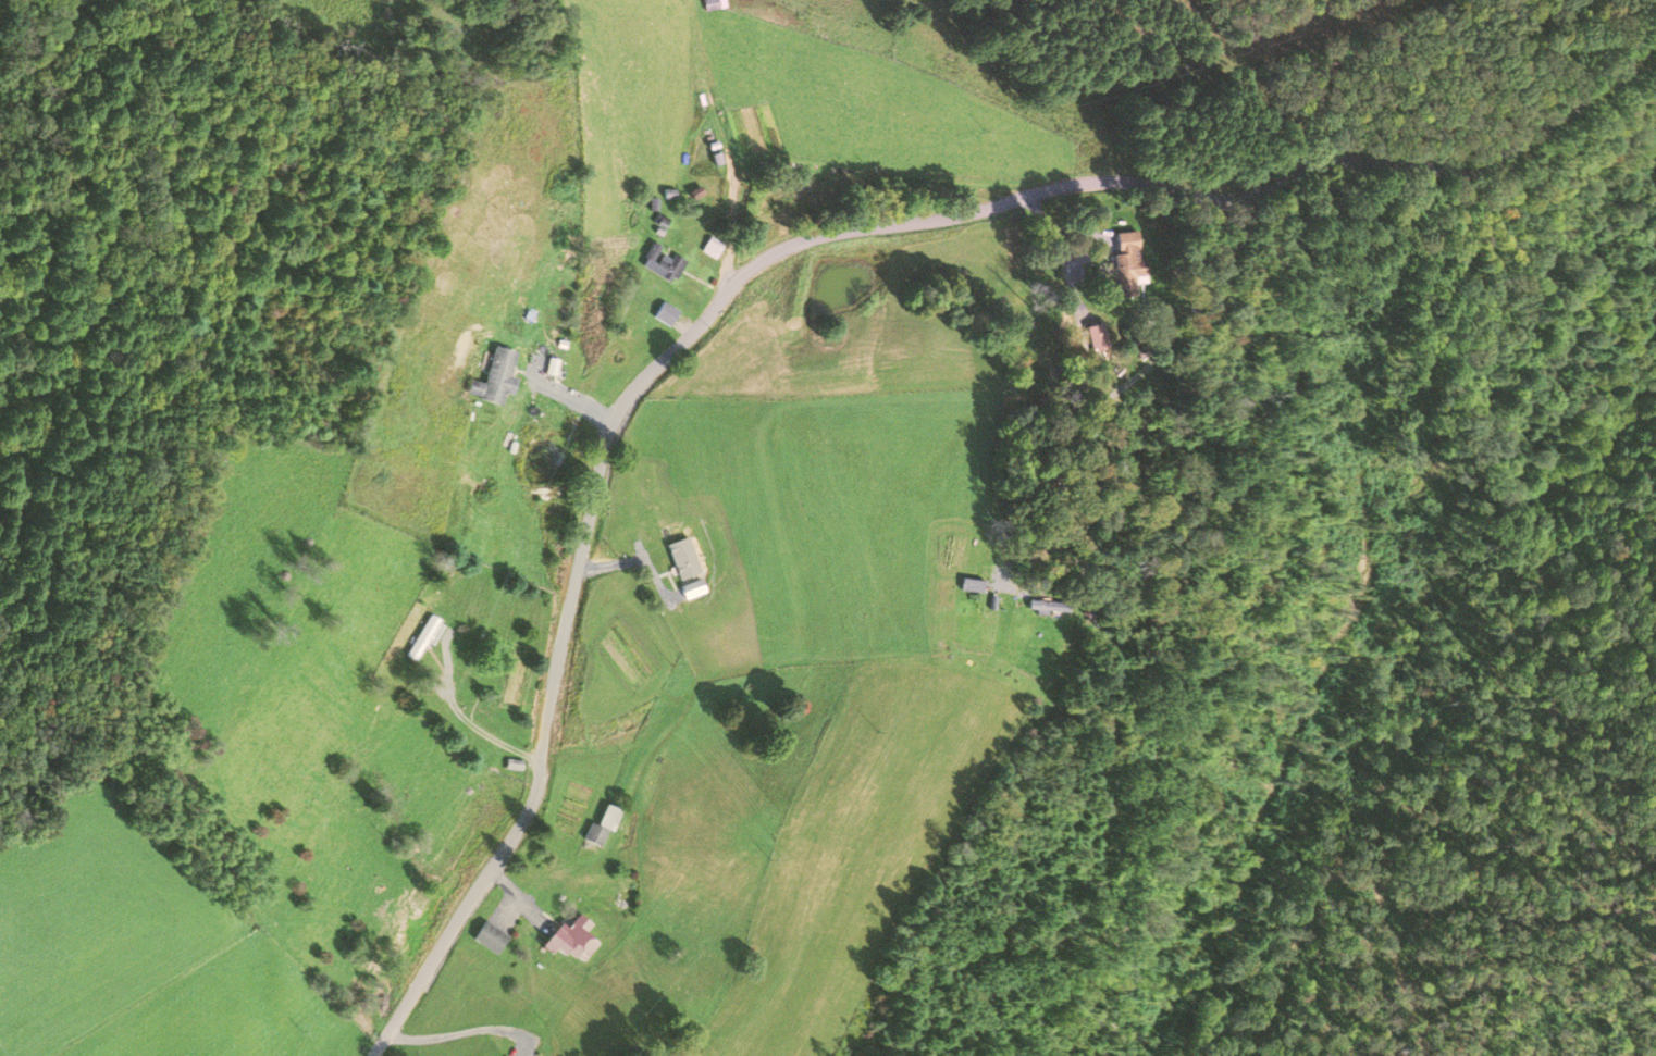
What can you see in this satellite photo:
building: (712, 4)
road: (719, 141)
road: (786, 247)
building: (708, 248)
building: (1125, 261)
building: (659, 263)
building: (664, 314)
building: (1095, 337)
building: (495, 376)
building: (1047, 610)
building: (421, 637)
building: (511, 765)
building: (600, 825)
building: (487, 937)
building: (572, 939)
road: (449, 1033)

